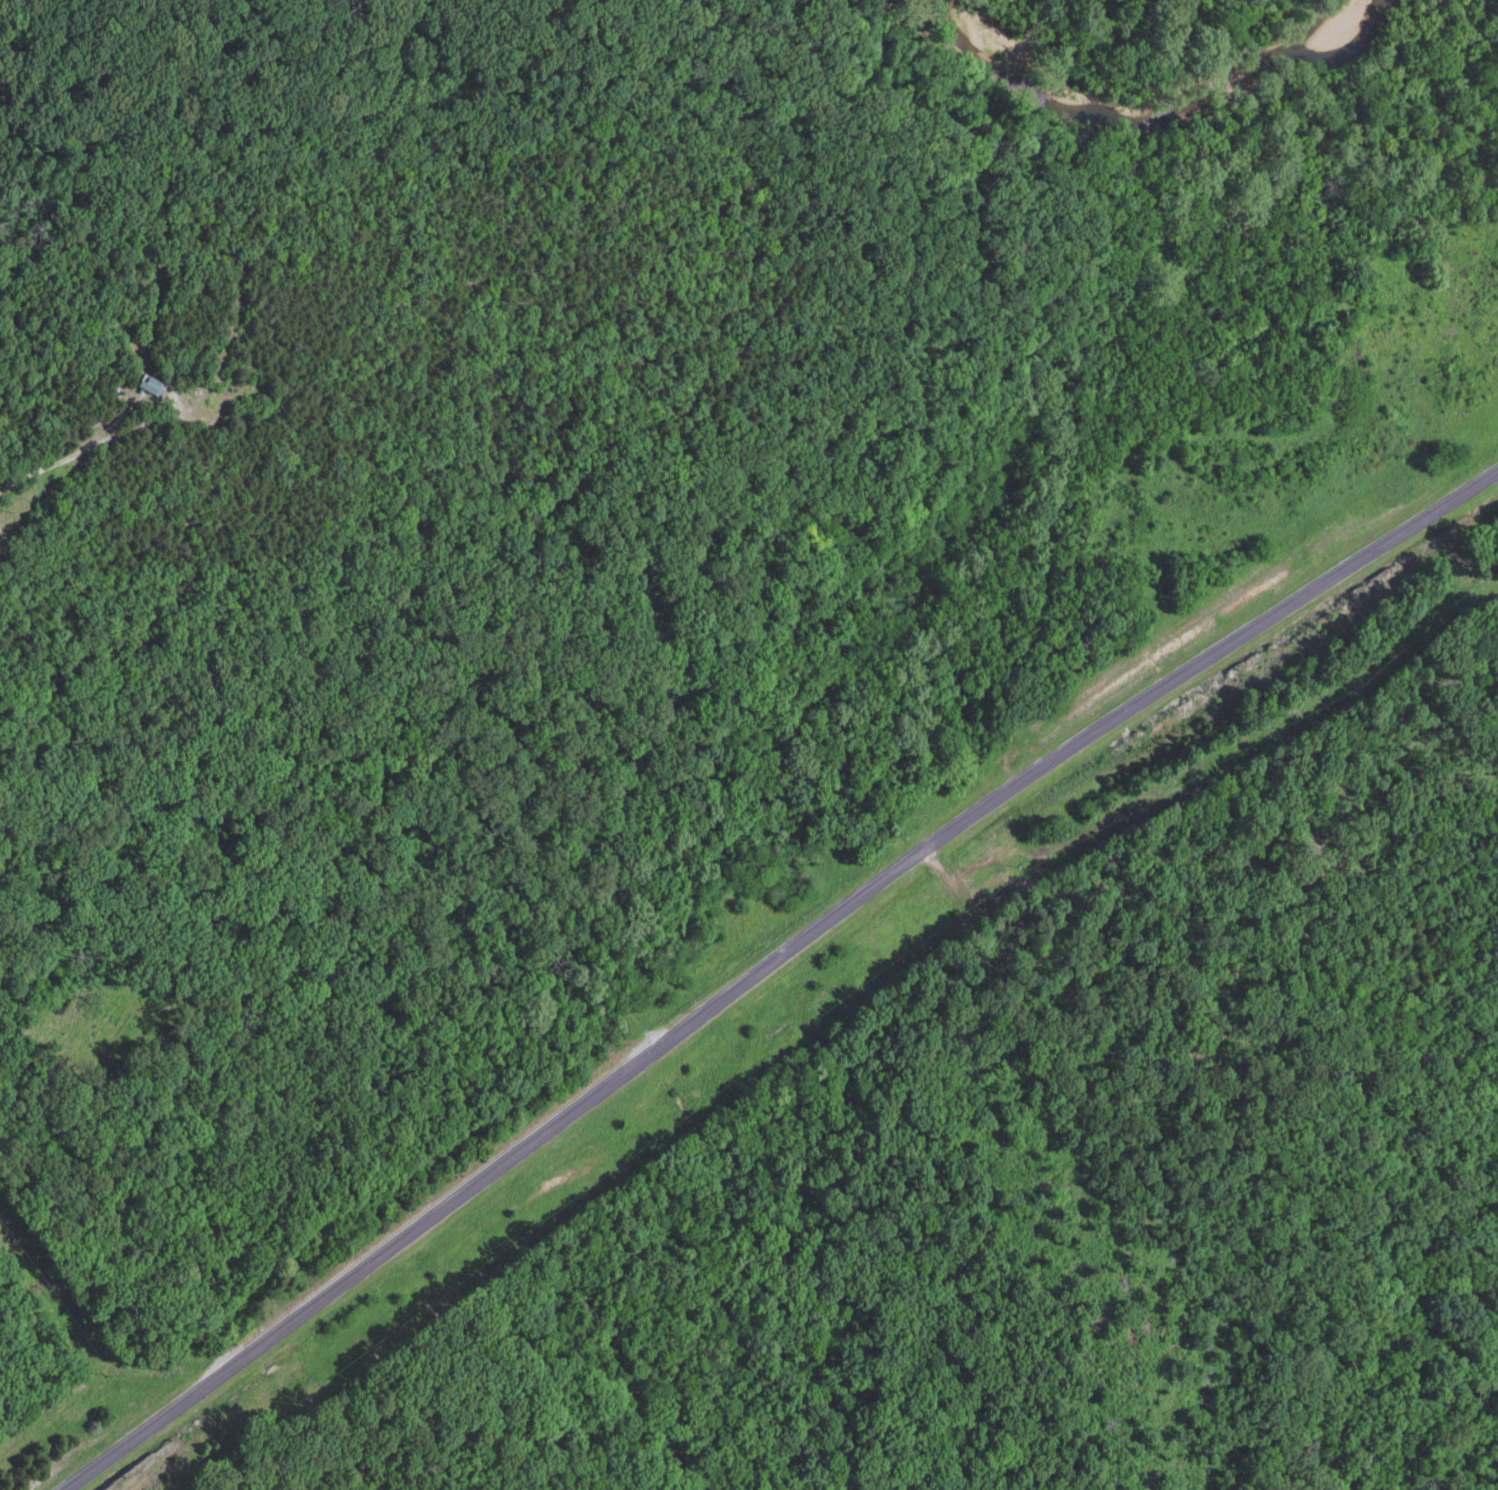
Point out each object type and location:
building: (156, 387)
road: (772, 963)

